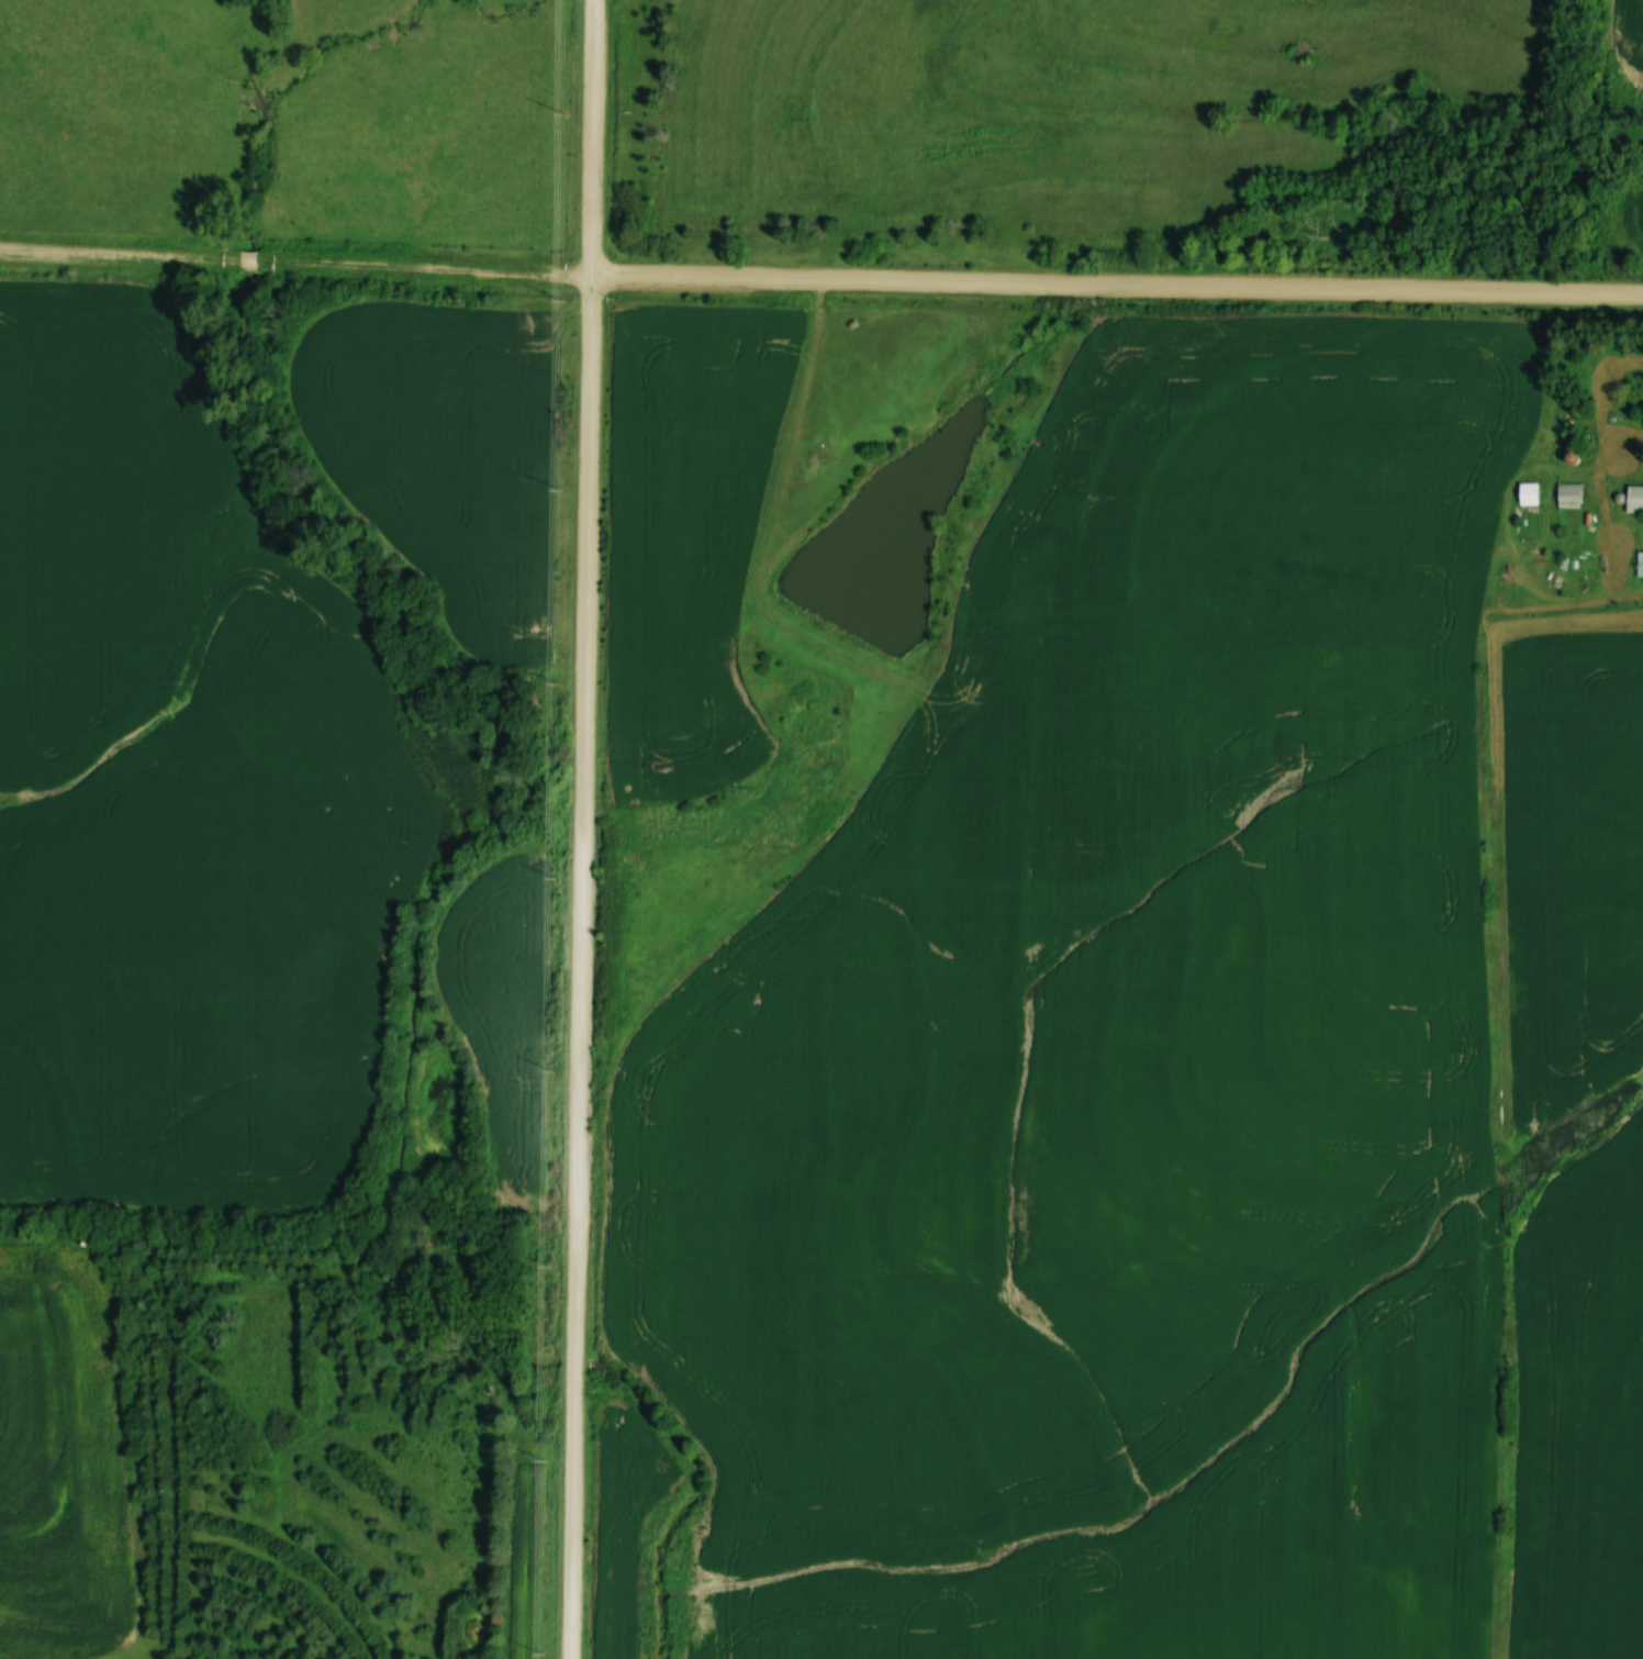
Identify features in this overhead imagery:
road: (820, 279)
building: (1527, 492)
building: (1568, 494)
building: (1633, 499)
building: (1640, 564)
road: (582, 829)

